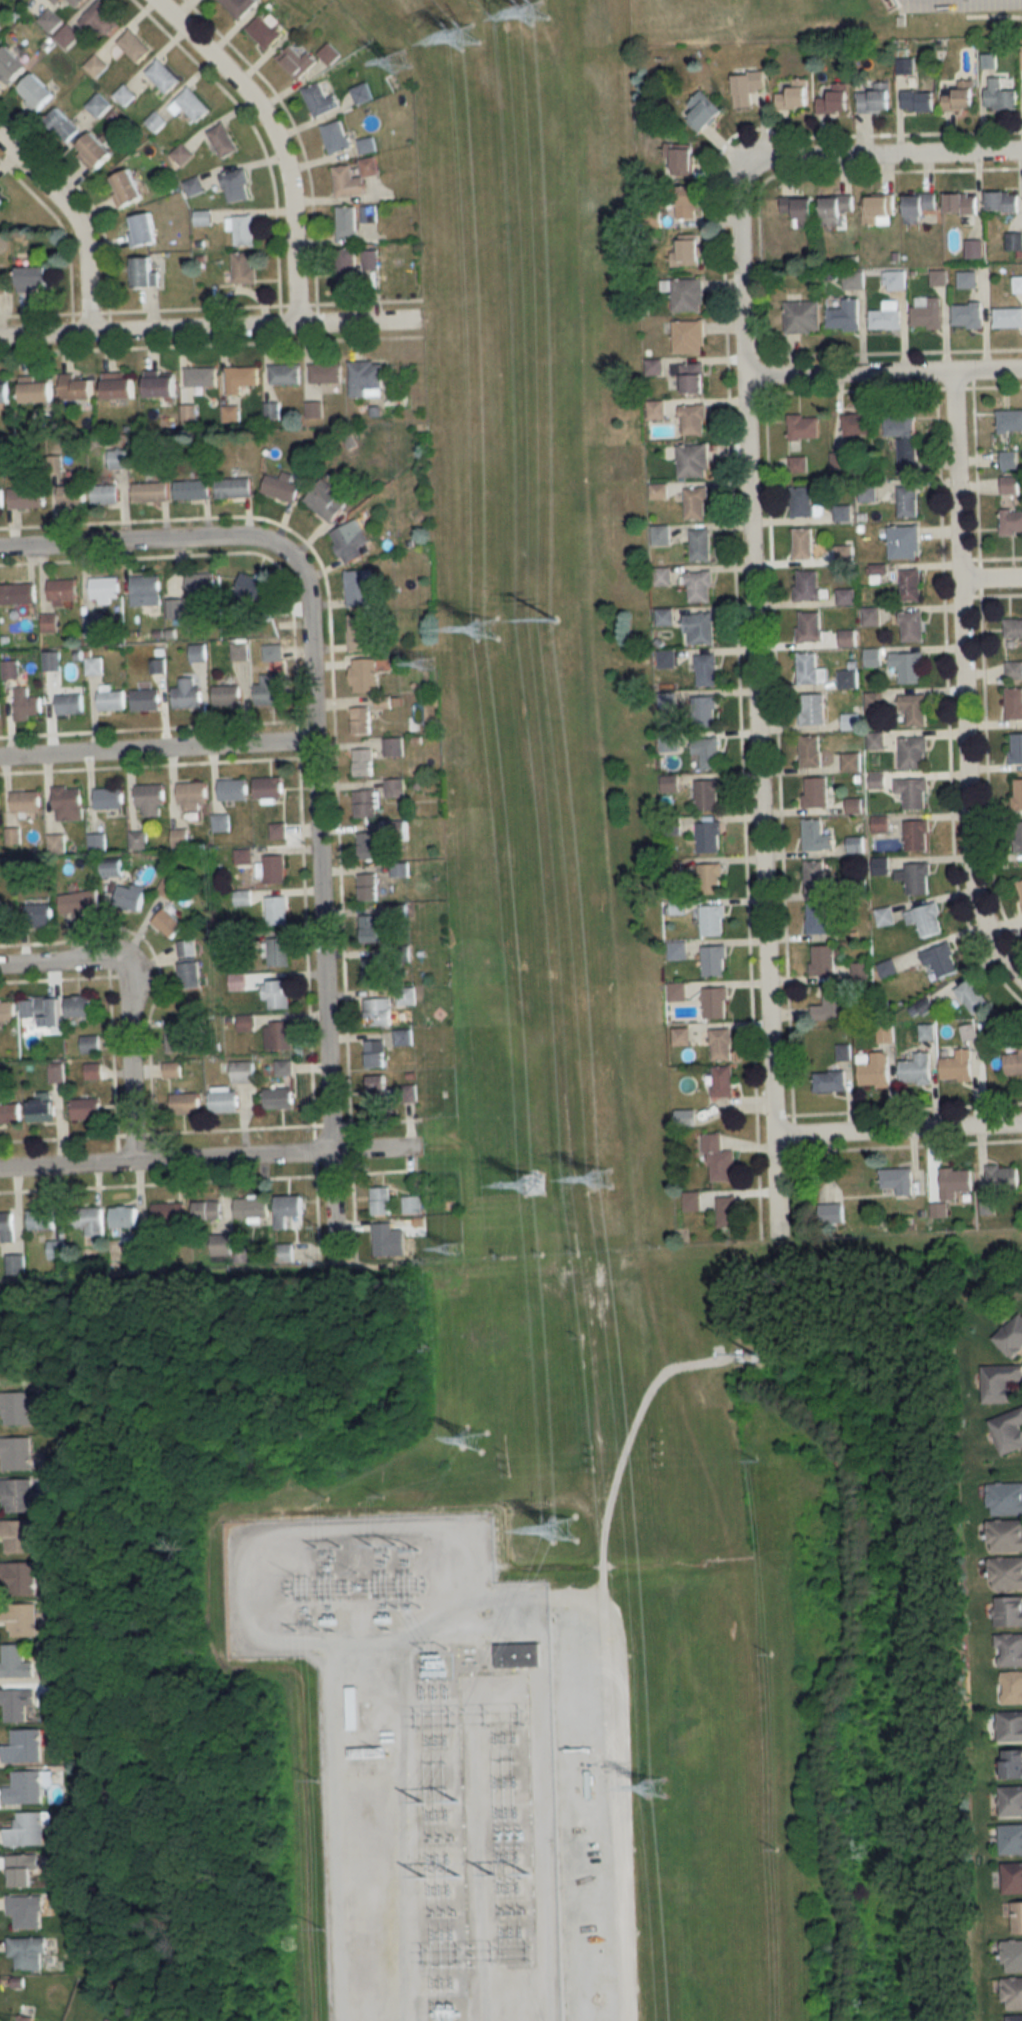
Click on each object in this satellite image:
building: (58, 1)
building: (76, 2)
building: (239, 6)
power tower: (533, 9)
building: (50, 19)
building: (100, 19)
building: (264, 31)
power tower: (471, 39)
building: (133, 46)
building: (329, 53)
building: (296, 61)
power tower: (395, 63)
building: (11, 64)
building: (162, 76)
building: (747, 86)
building: (912, 90)
building: (35, 92)
building: (361, 93)
building: (795, 95)
building: (1000, 95)
building: (961, 97)
building: (876, 98)
building: (320, 99)
building: (836, 100)
building: (190, 105)
building: (702, 111)
building: (62, 124)
building: (335, 136)
building: (223, 140)
road: (276, 140)
building: (366, 145)
building: (94, 151)
road: (885, 152)
building: (681, 160)
building: (353, 178)
building: (236, 185)
building: (126, 188)
building: (2, 199)
building: (688, 201)
building: (1002, 201)
building: (961, 202)
building: (919, 206)
building: (836, 208)
building: (800, 210)
building: (879, 210)
building: (366, 213)
building: (202, 217)
road: (78, 220)
building: (346, 221)
building: (142, 229)
building: (1015, 241)
building: (687, 253)
building: (346, 263)
building: (243, 267)
building: (144, 272)
building: (939, 277)
building: (33, 278)
building: (967, 279)
building: (853, 280)
building: (895, 280)
building: (4, 285)
building: (685, 294)
building: (928, 314)
building: (844, 315)
building: (968, 315)
building: (886, 316)
building: (802, 317)
building: (1008, 317)
road: (208, 329)
building: (689, 337)
road: (884, 372)
building: (325, 373)
building: (285, 374)
building: (200, 377)
building: (692, 377)
building: (240, 379)
building: (366, 379)
building: (119, 386)
building: (161, 387)
building: (75, 388)
building: (36, 390)
building: (4, 392)
building: (694, 420)
building: (1009, 421)
building: (858, 425)
building: (804, 427)
building: (904, 440)
building: (116, 459)
building: (1009, 460)
building: (693, 461)
building: (798, 464)
building: (1010, 484)
building: (234, 487)
building: (281, 487)
building: (192, 489)
building: (150, 492)
building: (866, 492)
building: (73, 493)
building: (105, 495)
building: (26, 496)
building: (1, 498)
building: (327, 499)
building: (802, 501)
building: (908, 501)
building: (697, 503)
building: (843, 513)
building: (1011, 522)
building: (350, 540)
building: (905, 542)
building: (804, 543)
building: (701, 545)
road: (144, 546)
road: (990, 577)
building: (202, 584)
building: (807, 585)
building: (912, 585)
building: (359, 586)
building: (700, 586)
building: (249, 589)
building: (104, 590)
building: (61, 591)
building: (145, 591)
building: (17, 593)
building: (175, 609)
building: (665, 617)
building: (49, 623)
building: (91, 626)
building: (810, 626)
building: (913, 627)
building: (700, 628)
building: (1013, 628)
power tower: (497, 630)
building: (358, 633)
power tower: (559, 635)
building: (849, 639)
building: (239, 651)
building: (272, 652)
building: (197, 653)
building: (51, 661)
building: (95, 664)
power tower: (426, 666)
building: (909, 666)
building: (810, 669)
building: (707, 670)
building: (1014, 670)
building: (363, 676)
building: (849, 680)
road: (959, 685)
building: (270, 689)
building: (186, 694)
building: (226, 695)
road: (756, 697)
building: (145, 699)
building: (110, 700)
building: (383, 702)
building: (69, 703)
building: (1014, 703)
building: (27, 704)
building: (915, 708)
building: (814, 709)
building: (704, 711)
building: (360, 720)
building: (851, 721)
building: (393, 747)
building: (1016, 747)
road: (157, 750)
building: (705, 751)
building: (812, 751)
building: (914, 752)
building: (362, 762)
building: (852, 762)
building: (268, 787)
building: (394, 788)
building: (232, 789)
building: (817, 792)
building: (914, 792)
building: (1018, 793)
building: (191, 795)
building: (708, 795)
building: (108, 798)
building: (150, 799)
building: (25, 801)
building: (67, 803)
building: (365, 804)
building: (854, 805)
building: (277, 831)
building: (918, 835)
building: (817, 836)
building: (1019, 836)
building: (179, 837)
building: (709, 837)
building: (137, 839)
building: (366, 846)
building: (112, 868)
building: (273, 870)
building: (818, 878)
building: (916, 878)
building: (710, 879)
building: (1020, 885)
building: (170, 887)
building: (367, 888)
building: (129, 898)
building: (79, 901)
road: (320, 904)
building: (275, 911)
building: (39, 914)
building: (6, 916)
building: (884, 916)
building: (818, 919)
building: (926, 919)
building: (713, 921)
building: (167, 923)
building: (372, 928)
building: (186, 949)
building: (677, 951)
building: (278, 952)
building: (944, 960)
building: (715, 961)
building: (823, 961)
building: (887, 968)
building: (372, 970)
building: (190, 975)
building: (677, 992)
building: (276, 994)
building: (406, 996)
building: (972, 996)
building: (716, 1002)
building: (832, 1005)
building: (79, 1007)
road: (127, 1007)
building: (42, 1010)
building: (7, 1011)
building: (377, 1012)
building: (969, 1033)
building: (278, 1035)
building: (403, 1037)
building: (177, 1039)
building: (89, 1044)
building: (722, 1044)
building: (843, 1052)
building: (375, 1053)
building: (1014, 1064)
building: (959, 1066)
building: (283, 1068)
building: (172, 1070)
building: (917, 1070)
building: (876, 1071)
building: (93, 1072)
building: (241, 1072)
building: (724, 1081)
building: (830, 1081)
building: (377, 1088)
building: (408, 1093)
building: (278, 1096)
building: (223, 1101)
building: (185, 1104)
building: (40, 1109)
building: (85, 1109)
building: (9, 1113)
road: (896, 1128)
road: (209, 1159)
building: (720, 1160)
power tower: (605, 1177)
building: (1002, 1177)
building: (898, 1181)
building: (956, 1183)
power tower: (539, 1188)
building: (381, 1201)
building: (411, 1205)
building: (713, 1206)
building: (251, 1208)
building: (288, 1208)
building: (206, 1210)
building: (169, 1212)
building: (835, 1212)
building: (124, 1216)
building: (40, 1219)
building: (87, 1220)
building: (6, 1225)
building: (383, 1239)
building: (56, 1249)
power tower: (453, 1250)
building: (1011, 1336)
building: (1000, 1382)
building: (15, 1407)
building: (1008, 1430)
power tower: (472, 1440)
building: (15, 1452)
building: (16, 1494)
power tower: (325, 1496)
building: (1005, 1498)
power tower: (566, 1523)
building: (17, 1535)
building: (1005, 1535)
building: (1005, 1572)
building: (17, 1578)
building: (1008, 1610)
road: (491, 1617)
building: (19, 1618)
building: (1009, 1649)
building: (517, 1652)
building: (14, 1661)
building: (47, 1662)
building: (1012, 1687)
building: (16, 1704)
building: (353, 1708)
building: (1009, 1726)
building: (23, 1746)
power substation: (420, 1758)
building: (1012, 1763)
power tower: (661, 1783)
building: (24, 1787)
building: (1011, 1801)
building: (26, 1829)
building: (1011, 1840)
building: (20, 1870)
building: (1012, 1878)
building: (24, 1911)
building: (1017, 1917)
building: (26, 1953)
building: (1012, 1956)
building: (1013, 1993)
building: (445, 2015)
building: (1014, 2017)
building: (23, 2018)

